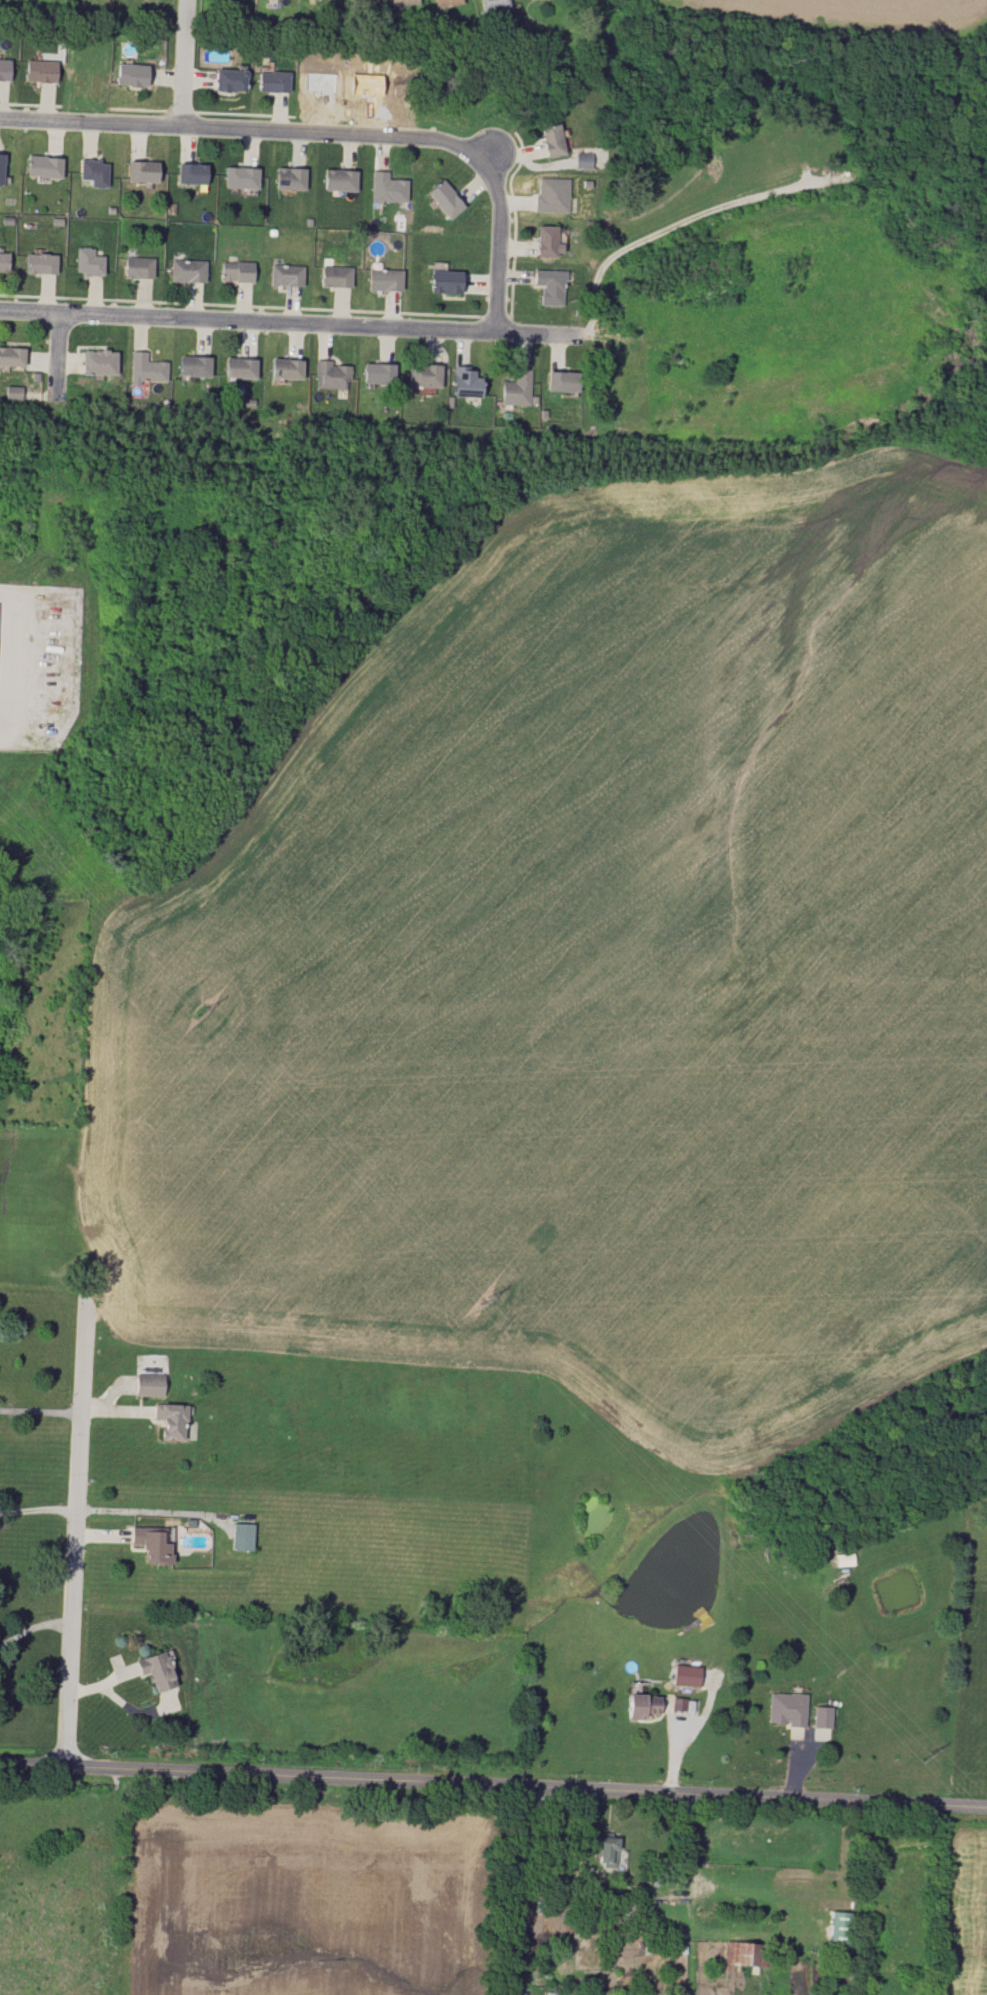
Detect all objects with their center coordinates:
building: (363, 0)
building: (530, 0)
building: (403, 1)
building: (445, 1)
building: (490, 4)
crop: (836, 16)
road: (183, 64)
building: (3, 69)
building: (37, 70)
building: (129, 74)
building: (227, 78)
building: (270, 80)
road: (329, 133)
building: (548, 139)
building: (581, 160)
building: (0, 162)
building: (42, 166)
building: (92, 171)
building: (140, 171)
building: (189, 173)
building: (238, 177)
building: (289, 177)
building: (337, 180)
building: (386, 186)
building: (550, 195)
building: (443, 197)
building: (542, 240)
building: (2, 260)
building: (87, 261)
building: (37, 262)
building: (135, 266)
building: (184, 269)
building: (234, 271)
building: (283, 273)
building: (332, 275)
building: (382, 279)
building: (442, 279)
building: (548, 285)
road: (291, 321)
road: (57, 355)
building: (10, 356)
building: (95, 362)
building: (192, 366)
building: (145, 367)
building: (283, 367)
building: (239, 368)
building: (375, 372)
building: (328, 373)
building: (421, 375)
building: (559, 381)
building: (463, 382)
building: (514, 388)
building: (12, 392)
parking lot: (38, 664)
crop: (596, 973)
power tower: (206, 1017)
power tower: (487, 1305)
building: (149, 1385)
road: (38, 1410)
building: (172, 1420)
road: (36, 1508)
road: (72, 1536)
building: (242, 1537)
building: (152, 1544)
road: (32, 1627)
building: (157, 1671)
building: (687, 1675)
building: (684, 1704)
building: (642, 1705)
building: (787, 1709)
building: (823, 1717)
power tower: (931, 1760)
road: (493, 1784)
building: (606, 1850)
road: (511, 1887)
road: (691, 1888)
crop: (304, 1895)
road: (755, 1901)
crop: (966, 1908)
building: (840, 1926)
building: (745, 1954)
building: (550, 1993)

